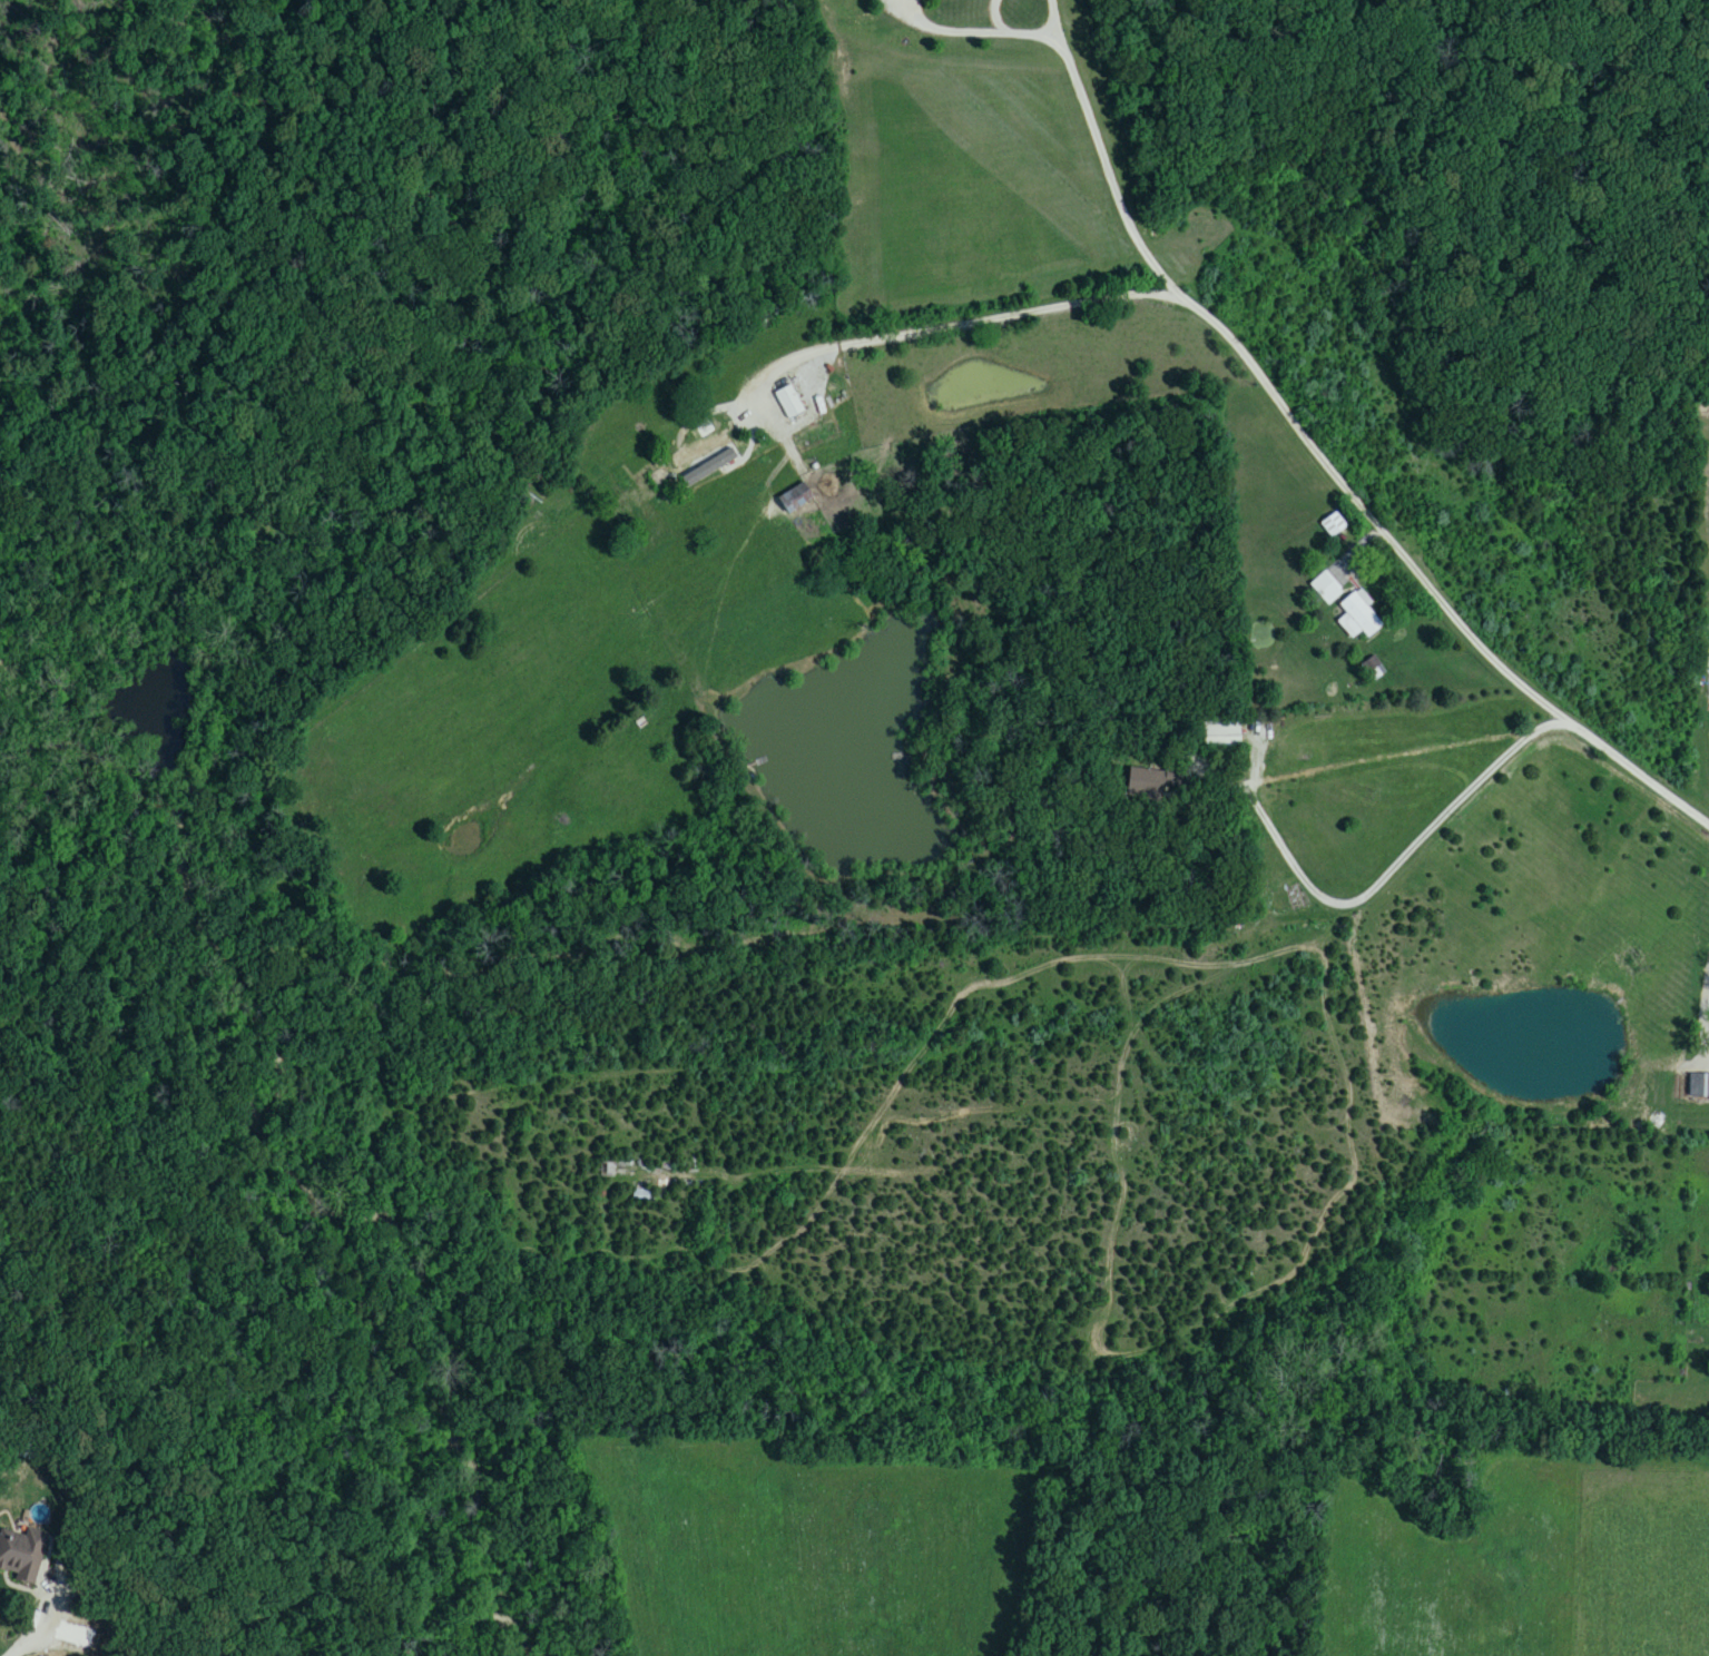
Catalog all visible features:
road: (946, 28)
road: (1020, 31)
road: (961, 325)
building: (790, 404)
building: (699, 443)
road: (1319, 456)
building: (796, 500)
building: (1327, 589)
building: (1359, 618)
building: (1221, 737)
road: (1383, 880)
building: (1699, 1086)
road: (1705, 1331)
building: (20, 1558)
road: (30, 1648)

